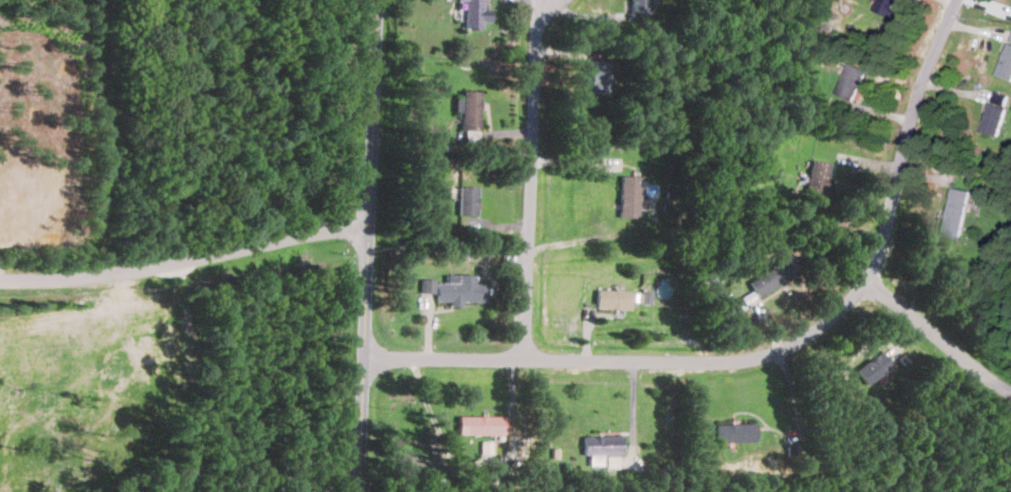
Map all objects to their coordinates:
building: (637, 6)
building: (886, 7)
building: (472, 14)
building: (1005, 64)
building: (597, 78)
building: (850, 82)
road: (958, 90)
building: (468, 111)
building: (992, 120)
road: (534, 176)
building: (816, 178)
building: (627, 197)
building: (466, 201)
building: (955, 213)
road: (372, 246)
road: (187, 256)
building: (467, 257)
building: (772, 277)
building: (455, 290)
building: (610, 300)
road: (938, 333)
road: (777, 348)
building: (872, 367)
road: (631, 409)
building: (479, 424)
building: (734, 433)
building: (600, 445)
building: (486, 447)
building: (611, 460)

